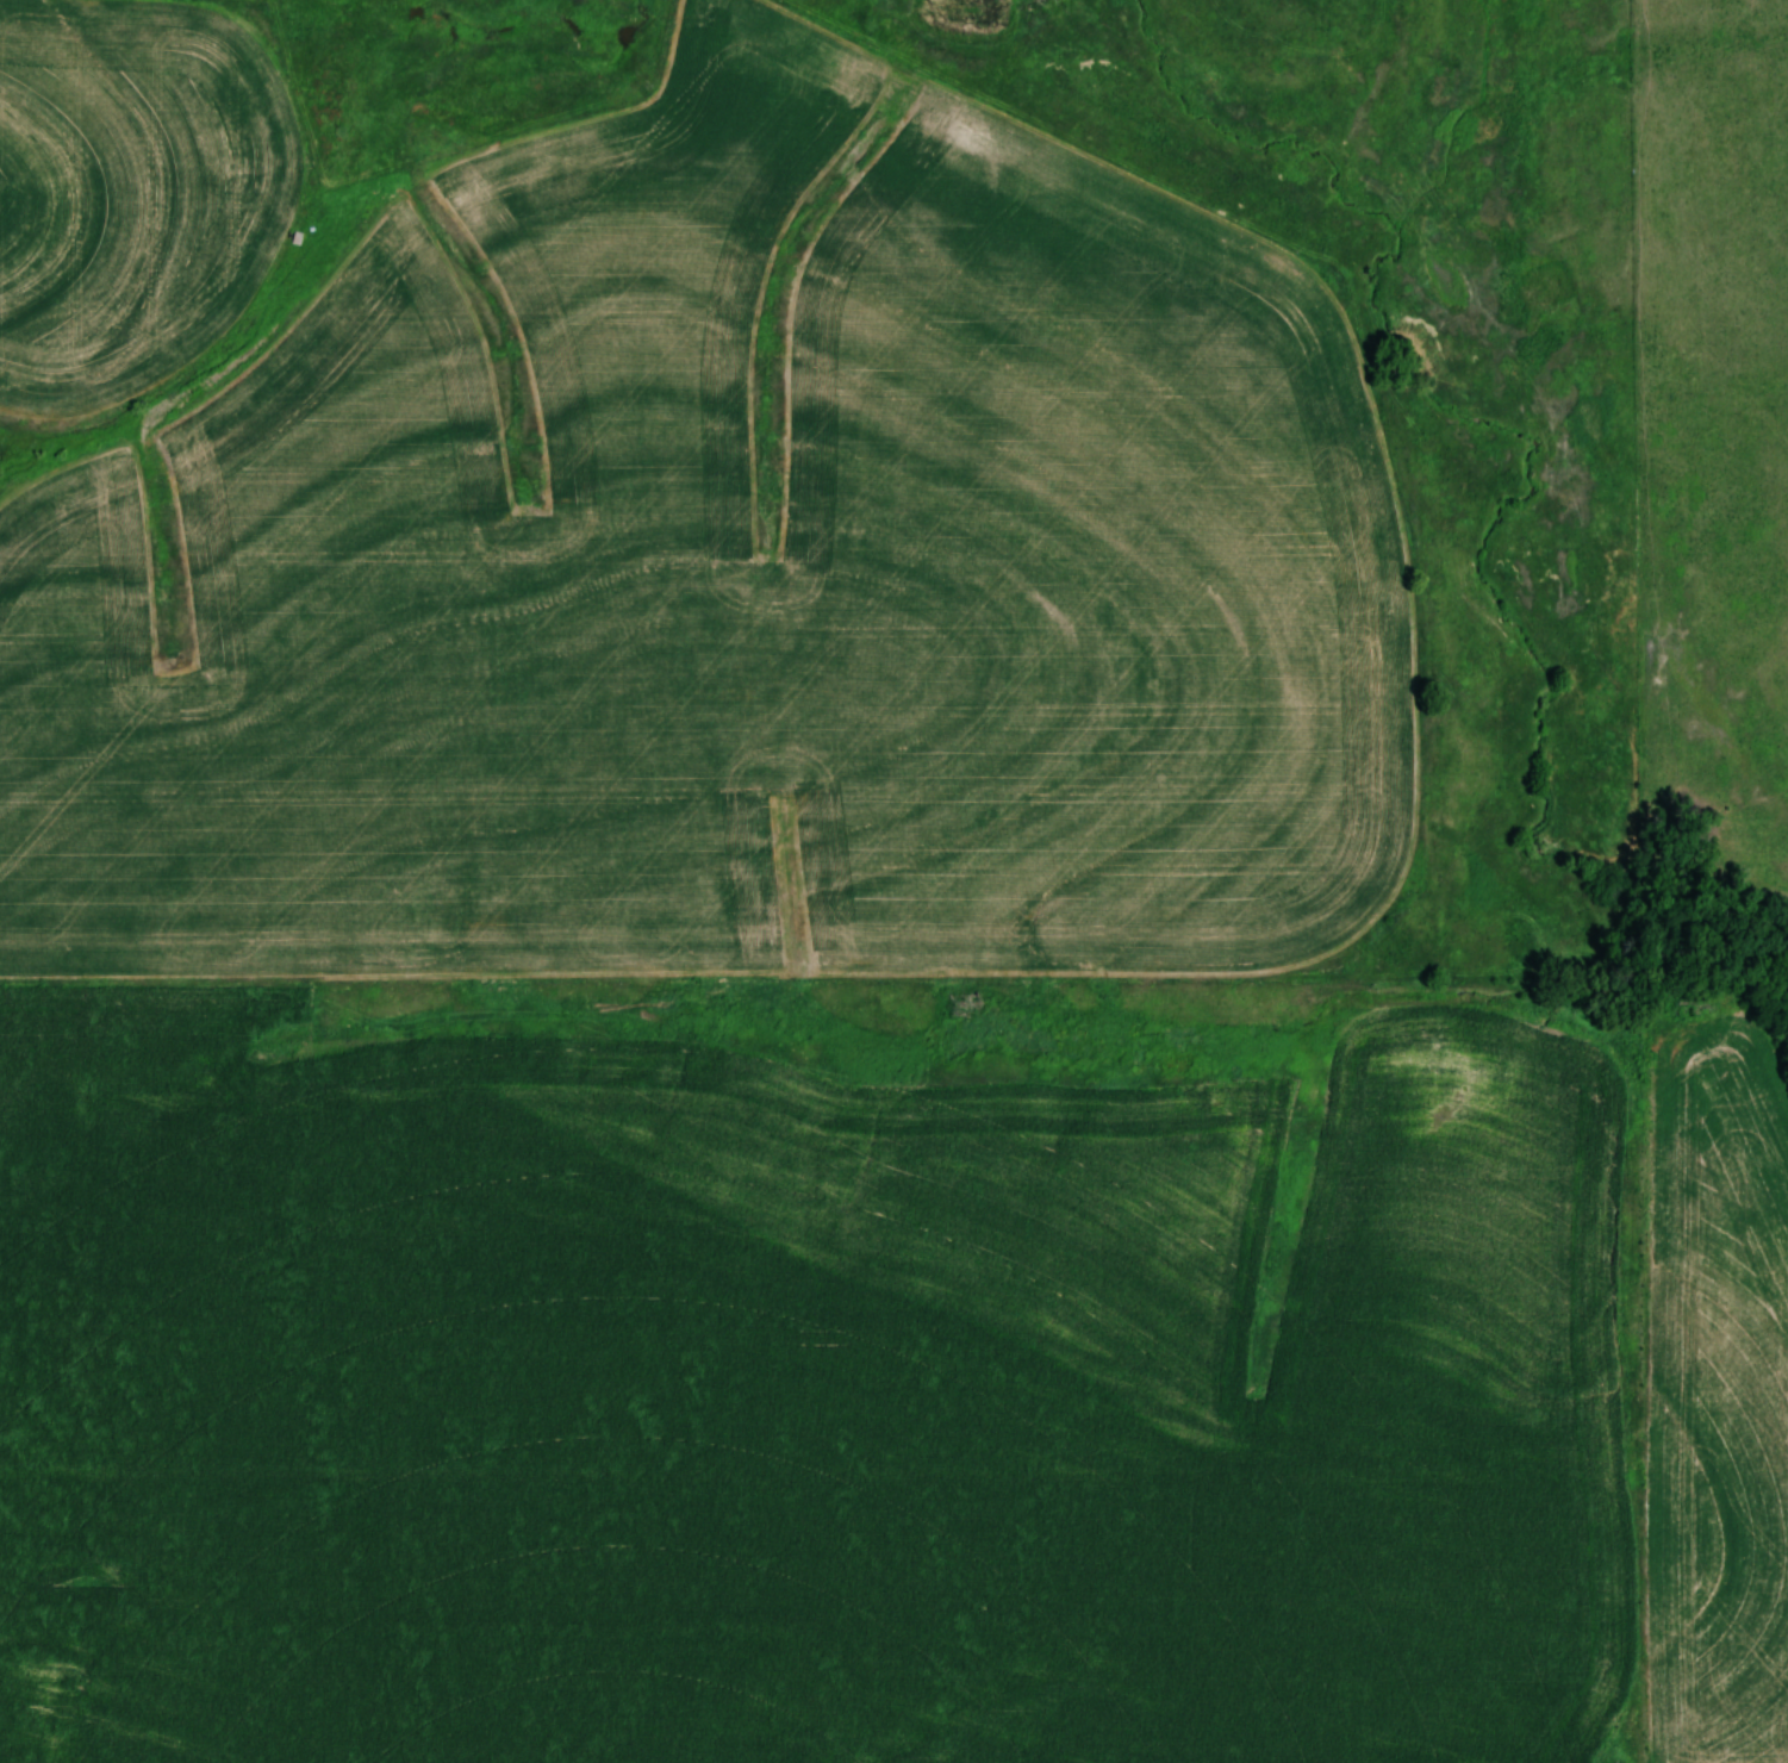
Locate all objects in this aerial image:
road: (4, 1644)
building: (29, 1676)

